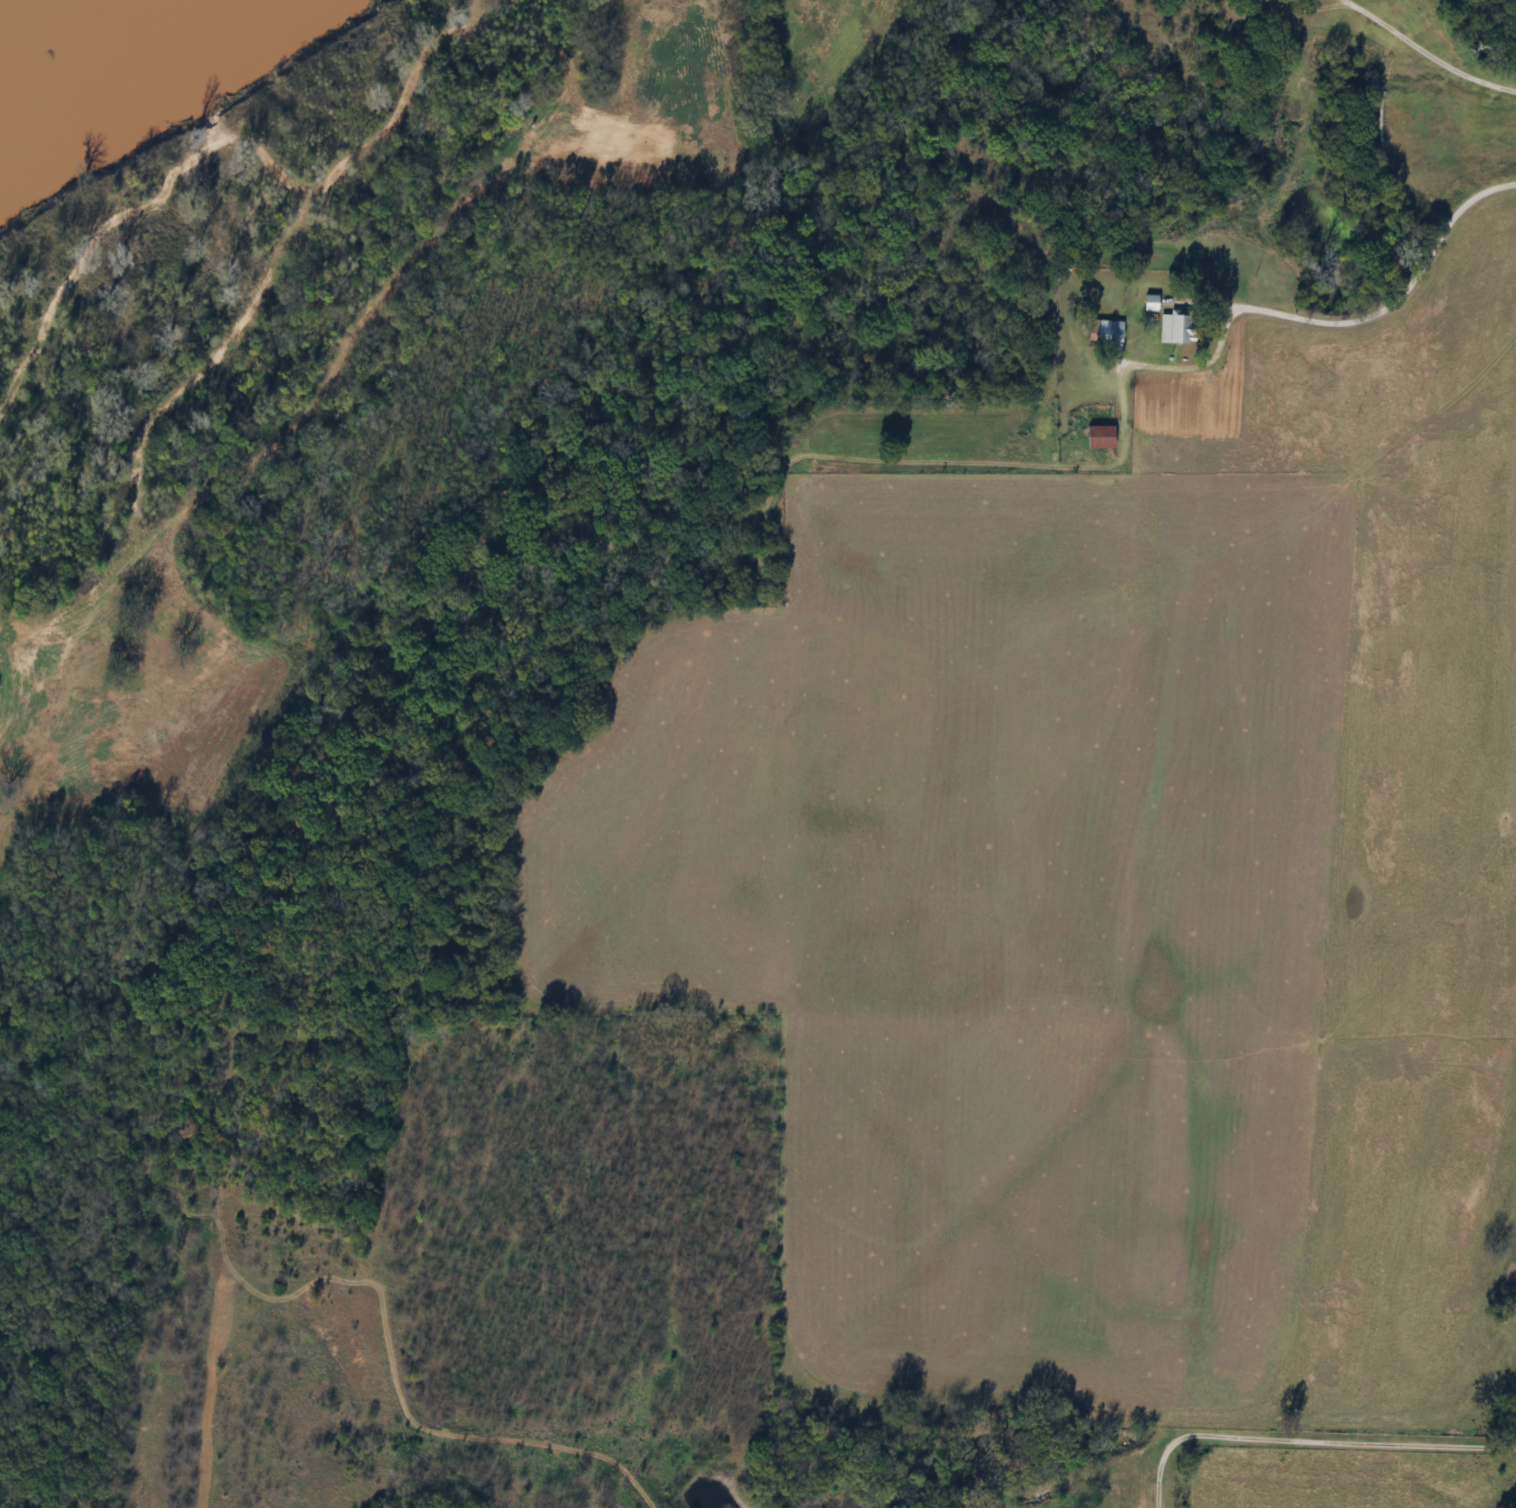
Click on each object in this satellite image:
road: (1423, 51)
building: (1147, 304)
road: (1396, 307)
building: (1173, 329)
building: (1102, 332)
building: (1097, 439)
road: (1312, 1444)

